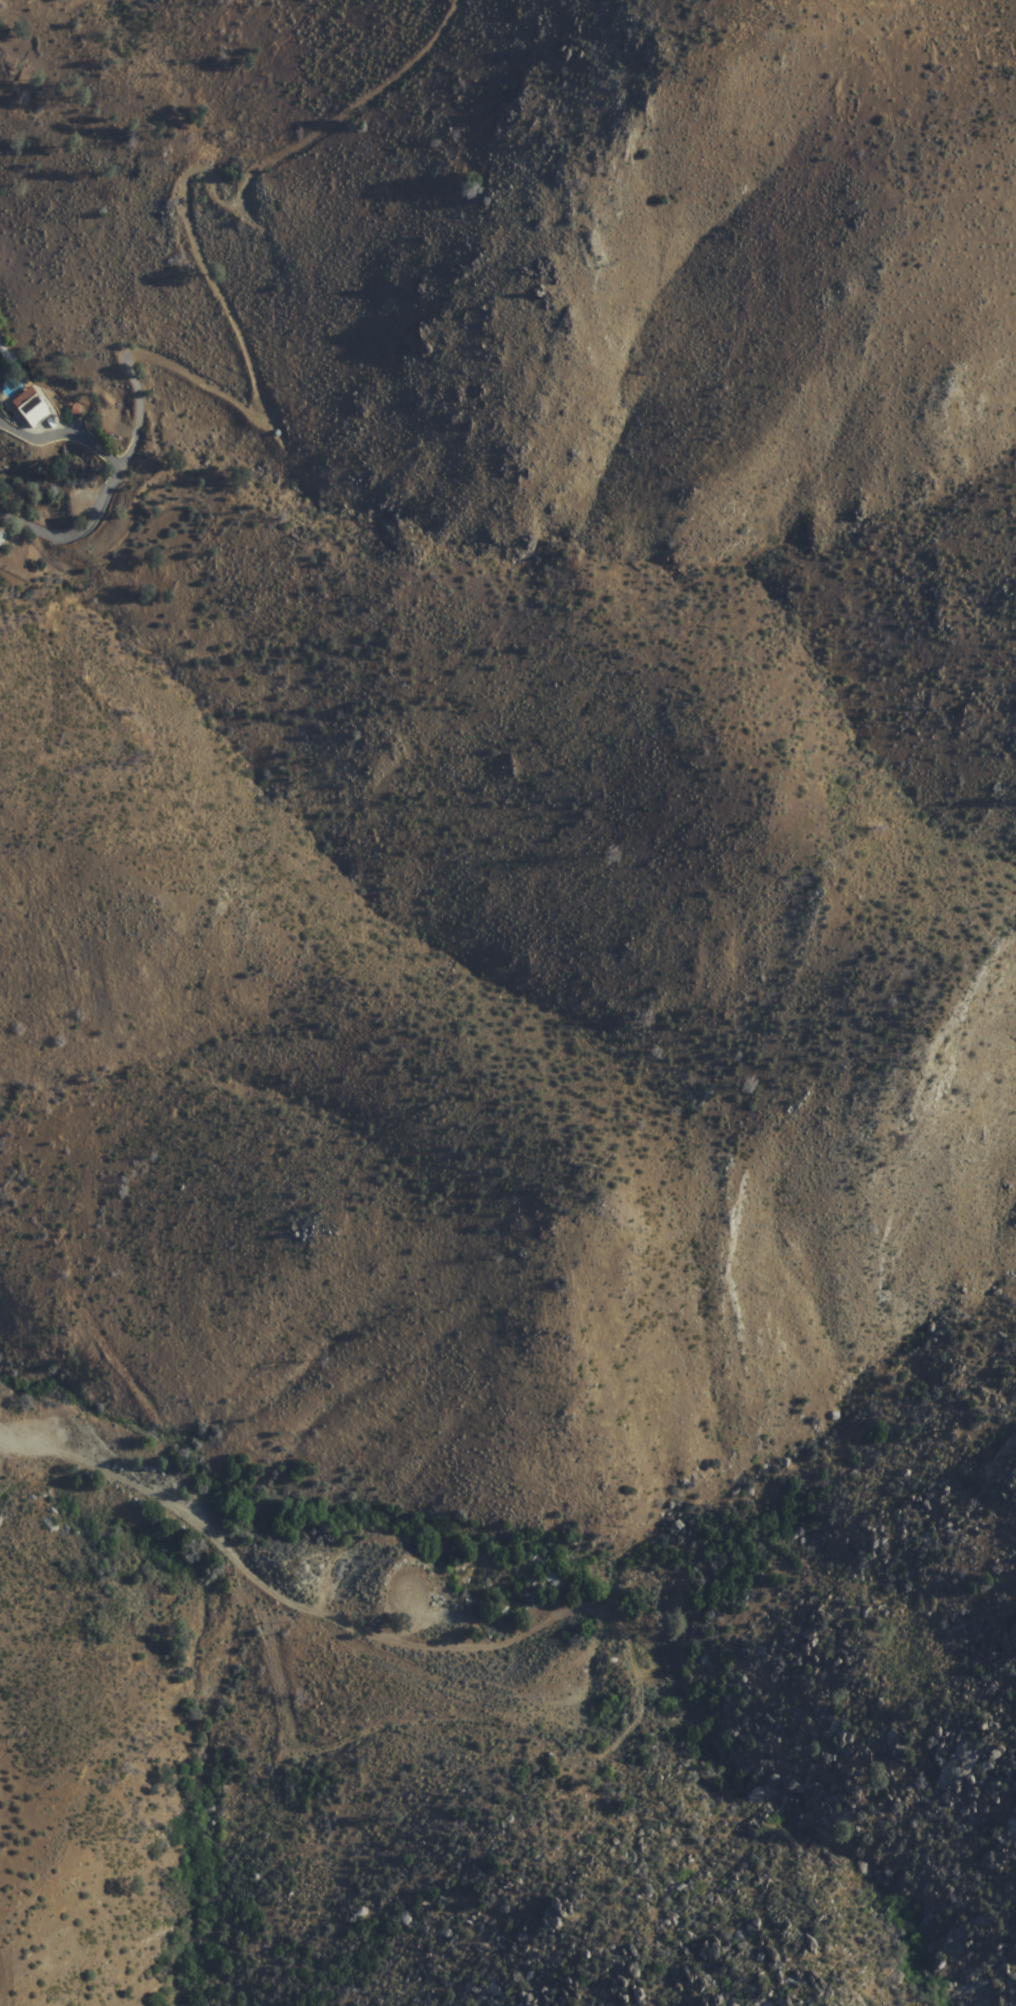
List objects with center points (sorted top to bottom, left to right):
building: (33, 407)
road: (285, 1678)

